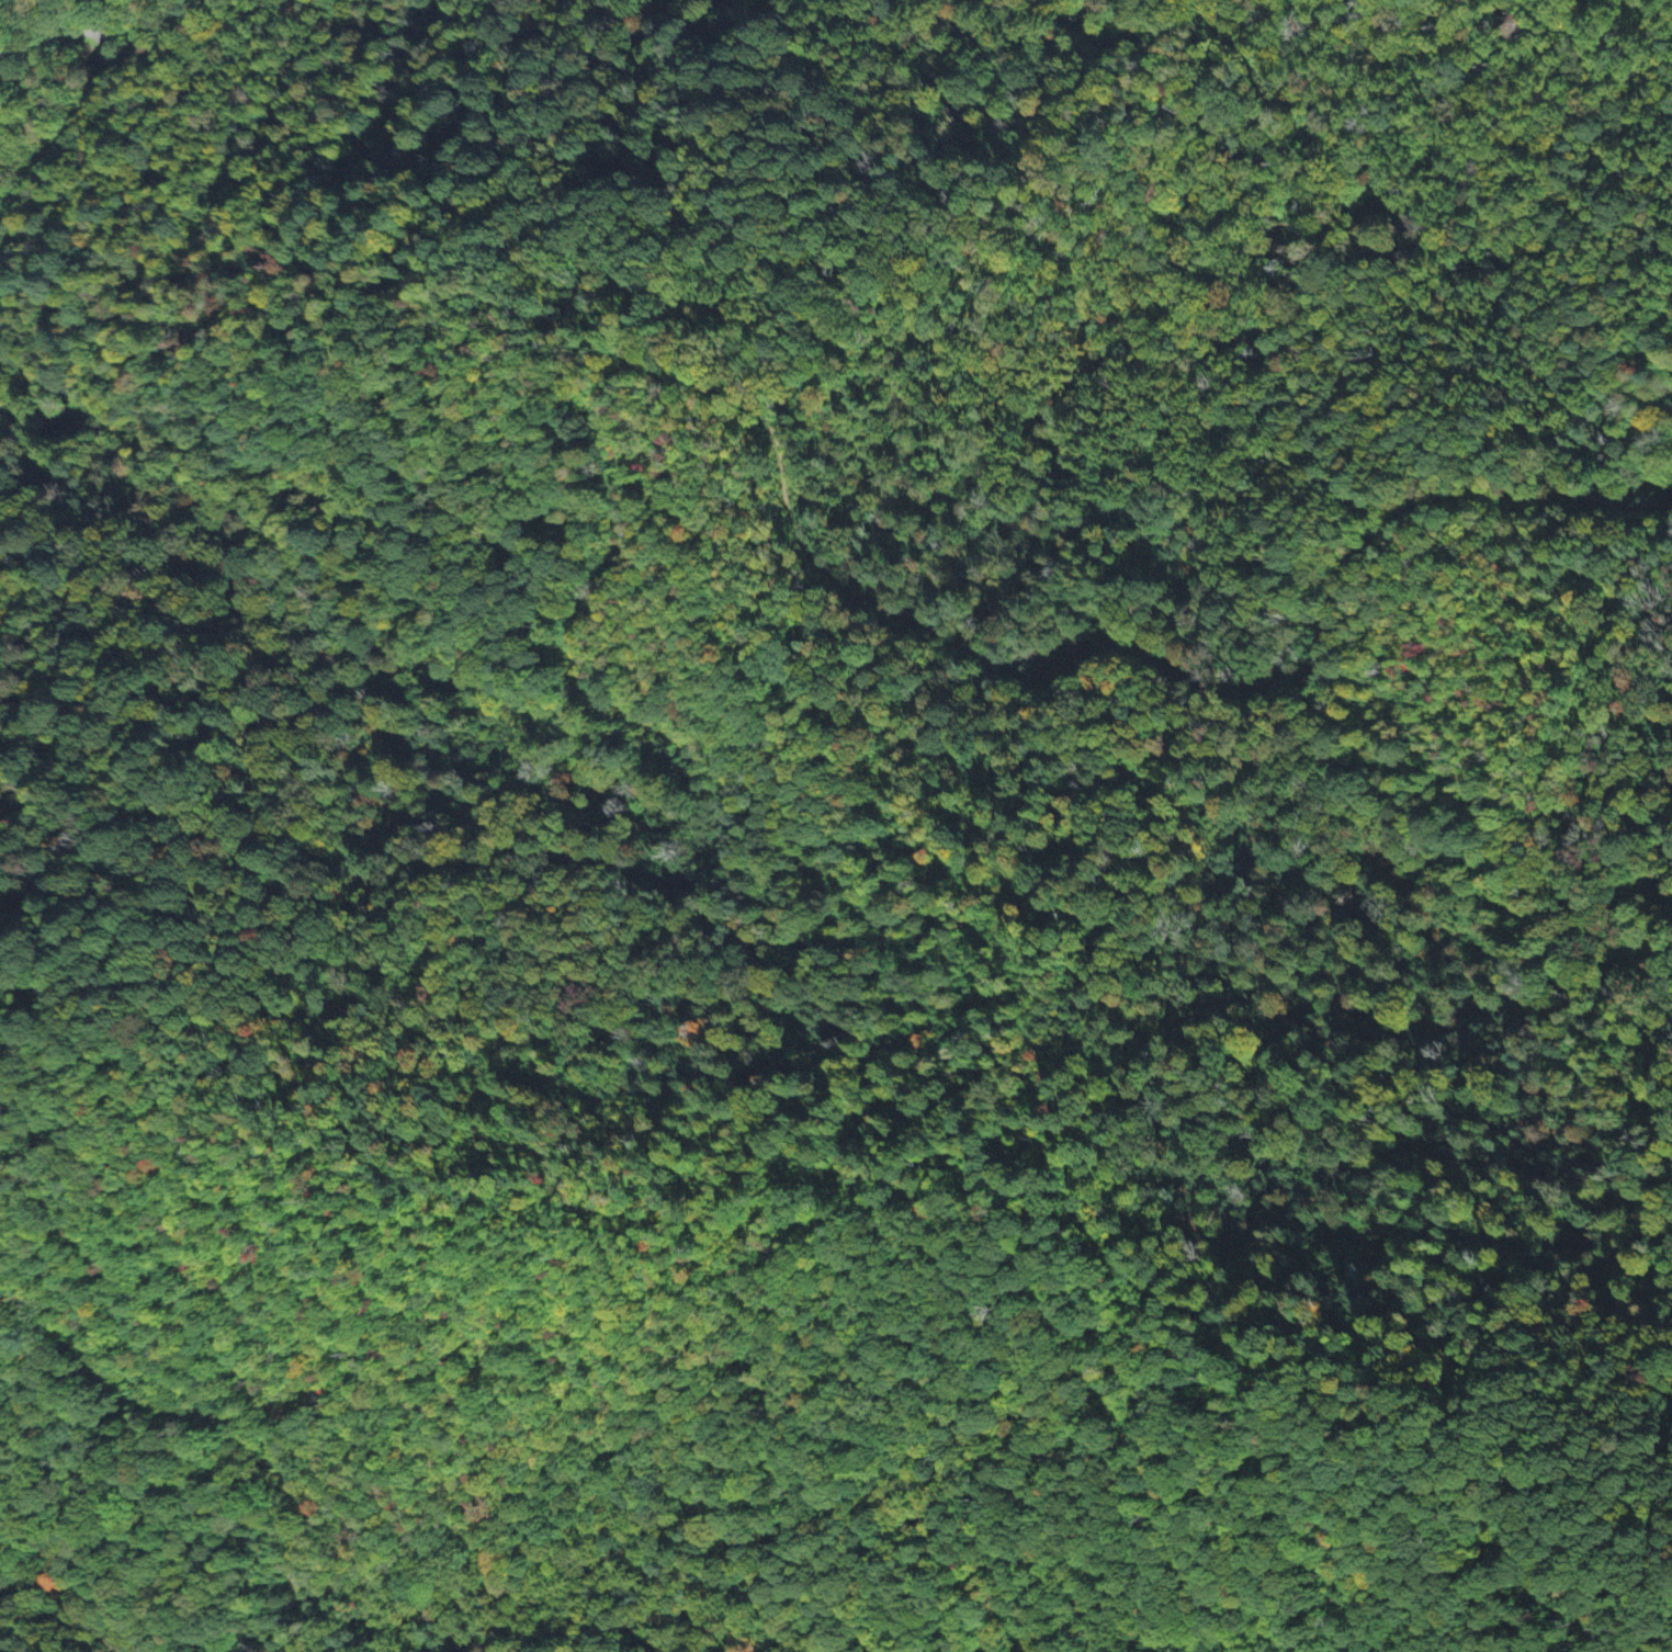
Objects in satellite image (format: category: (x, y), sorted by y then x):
road: (611, 385)
road: (218, 1440)

